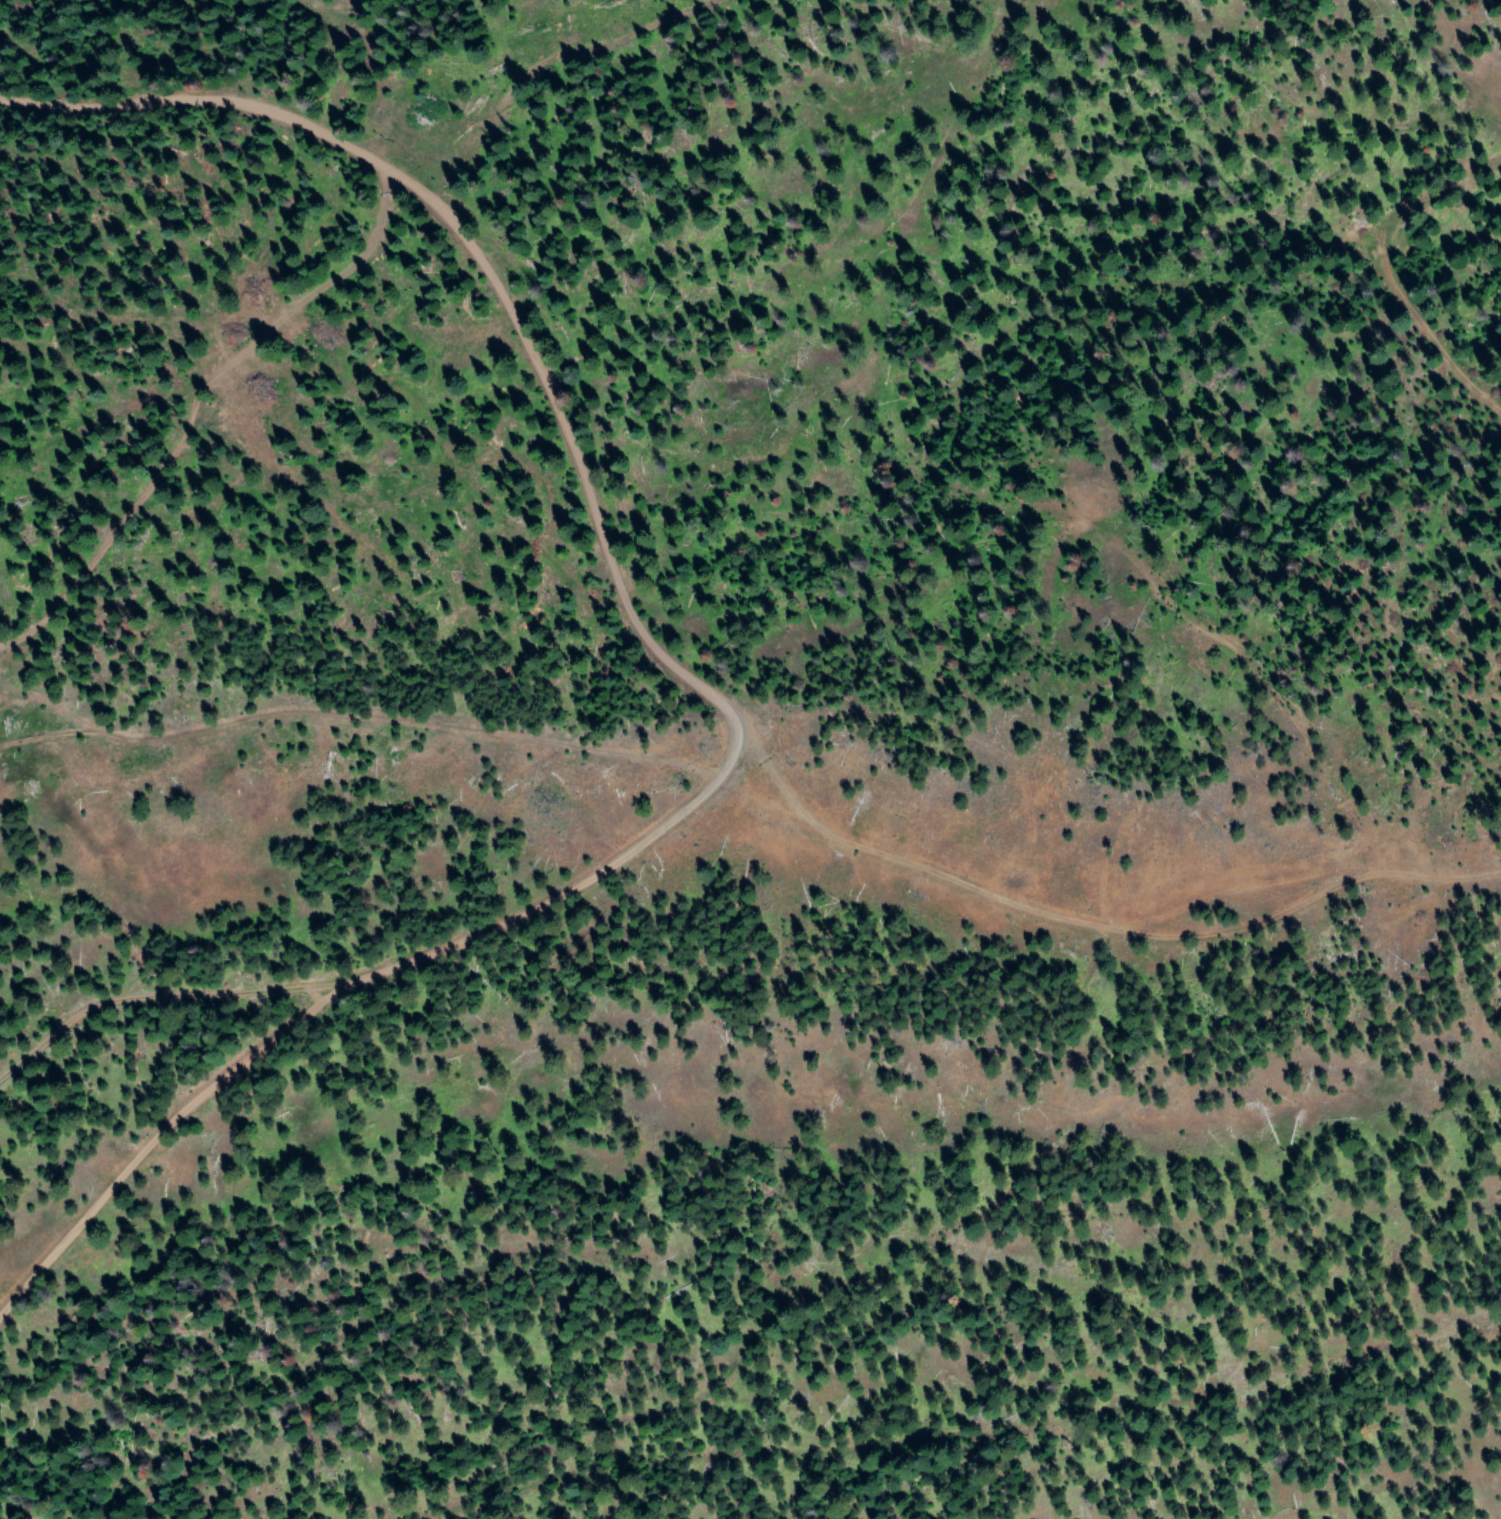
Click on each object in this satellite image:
ski resort: (271, 16)
road: (241, 226)
road: (1487, 307)
road: (234, 513)
road: (621, 846)
road: (784, 856)

